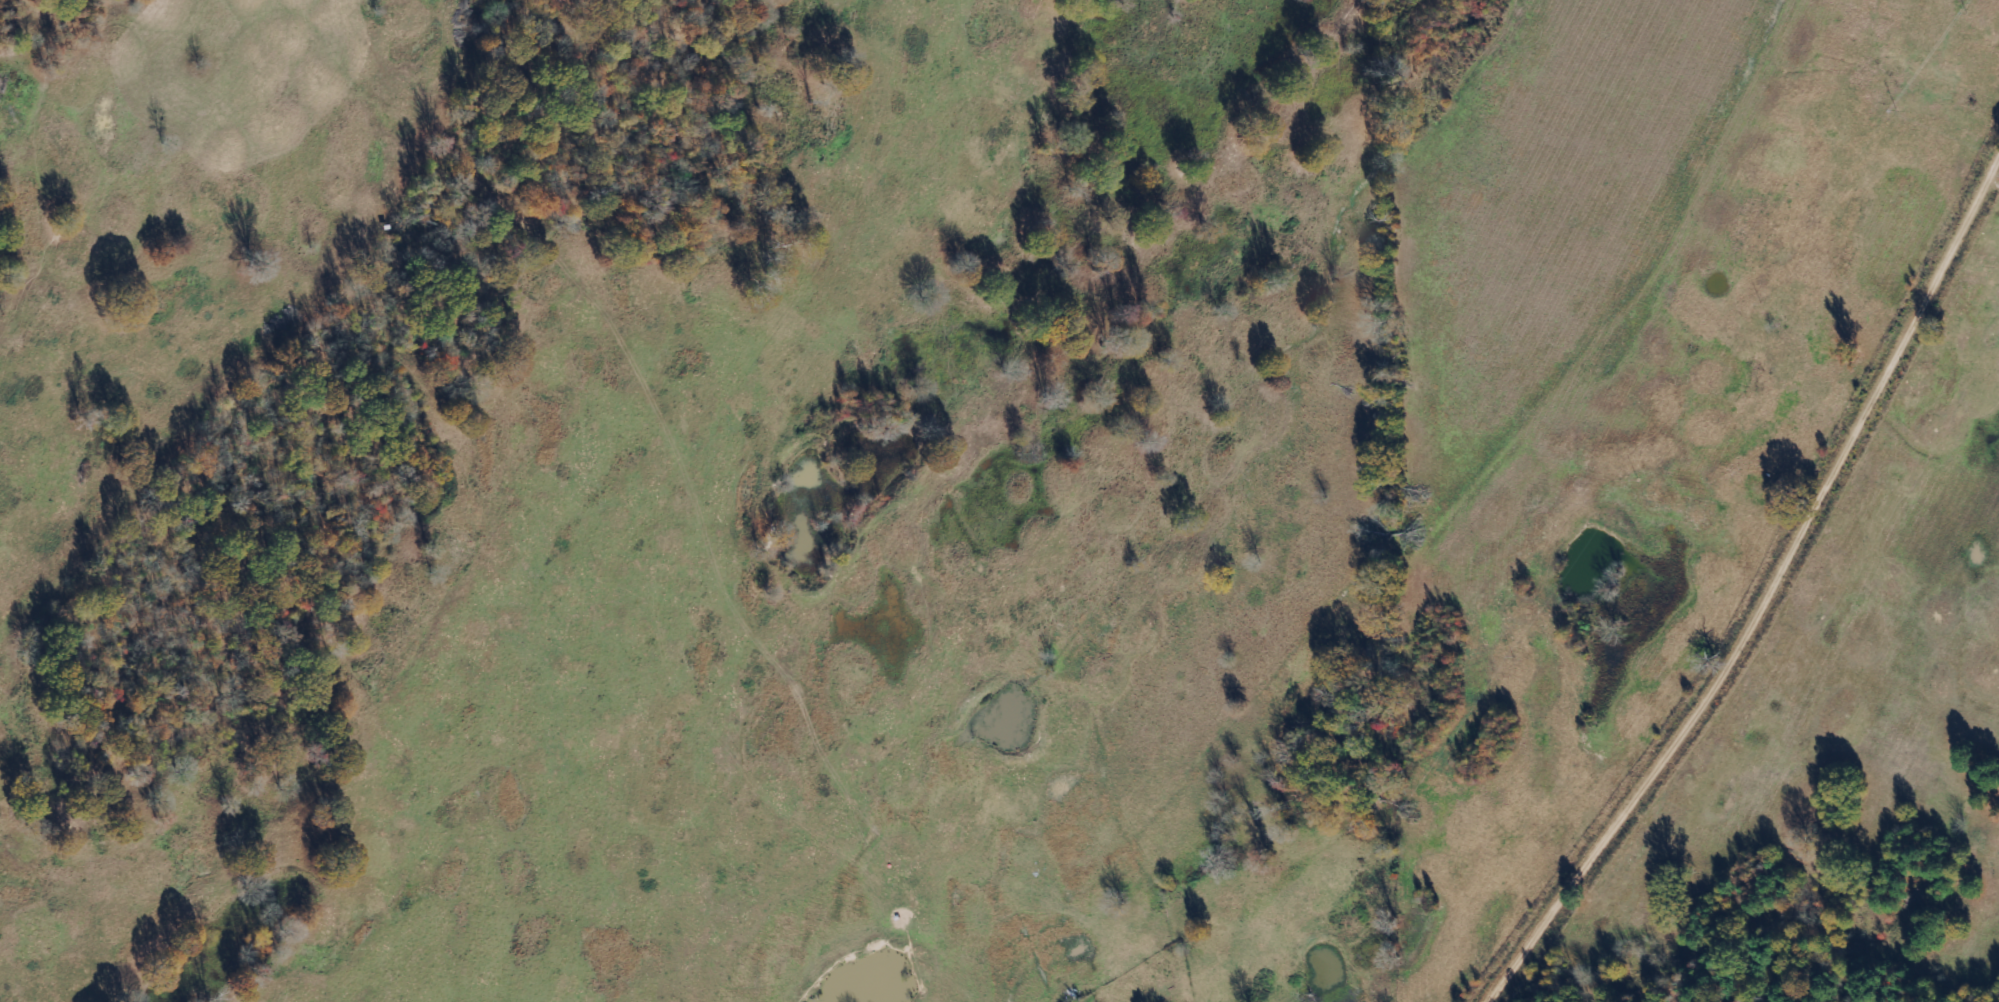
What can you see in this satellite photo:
road: (1771, 598)

